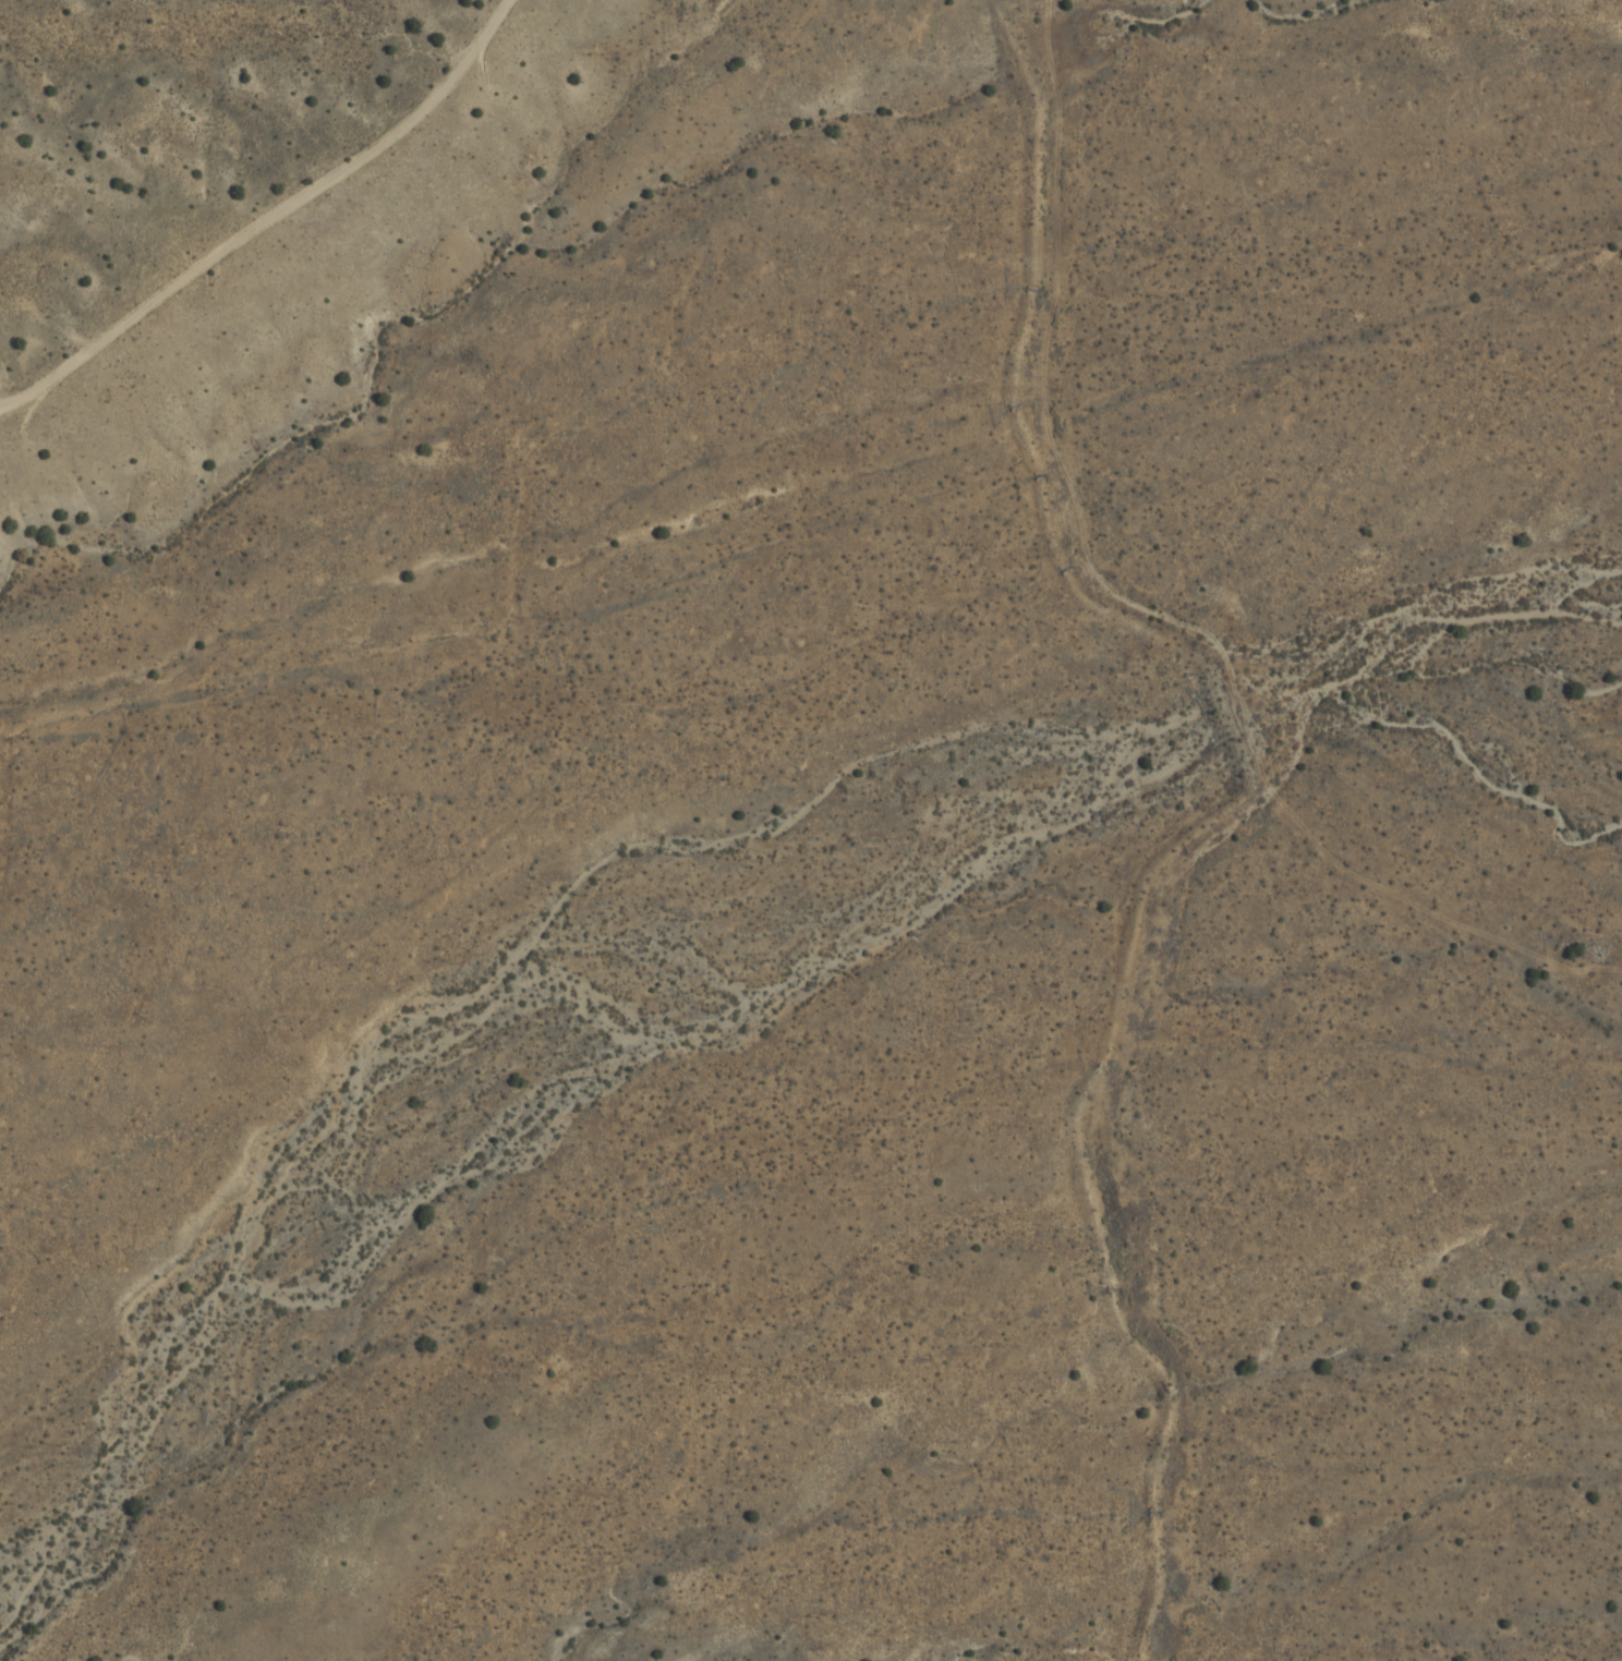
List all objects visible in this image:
road: (268, 213)

